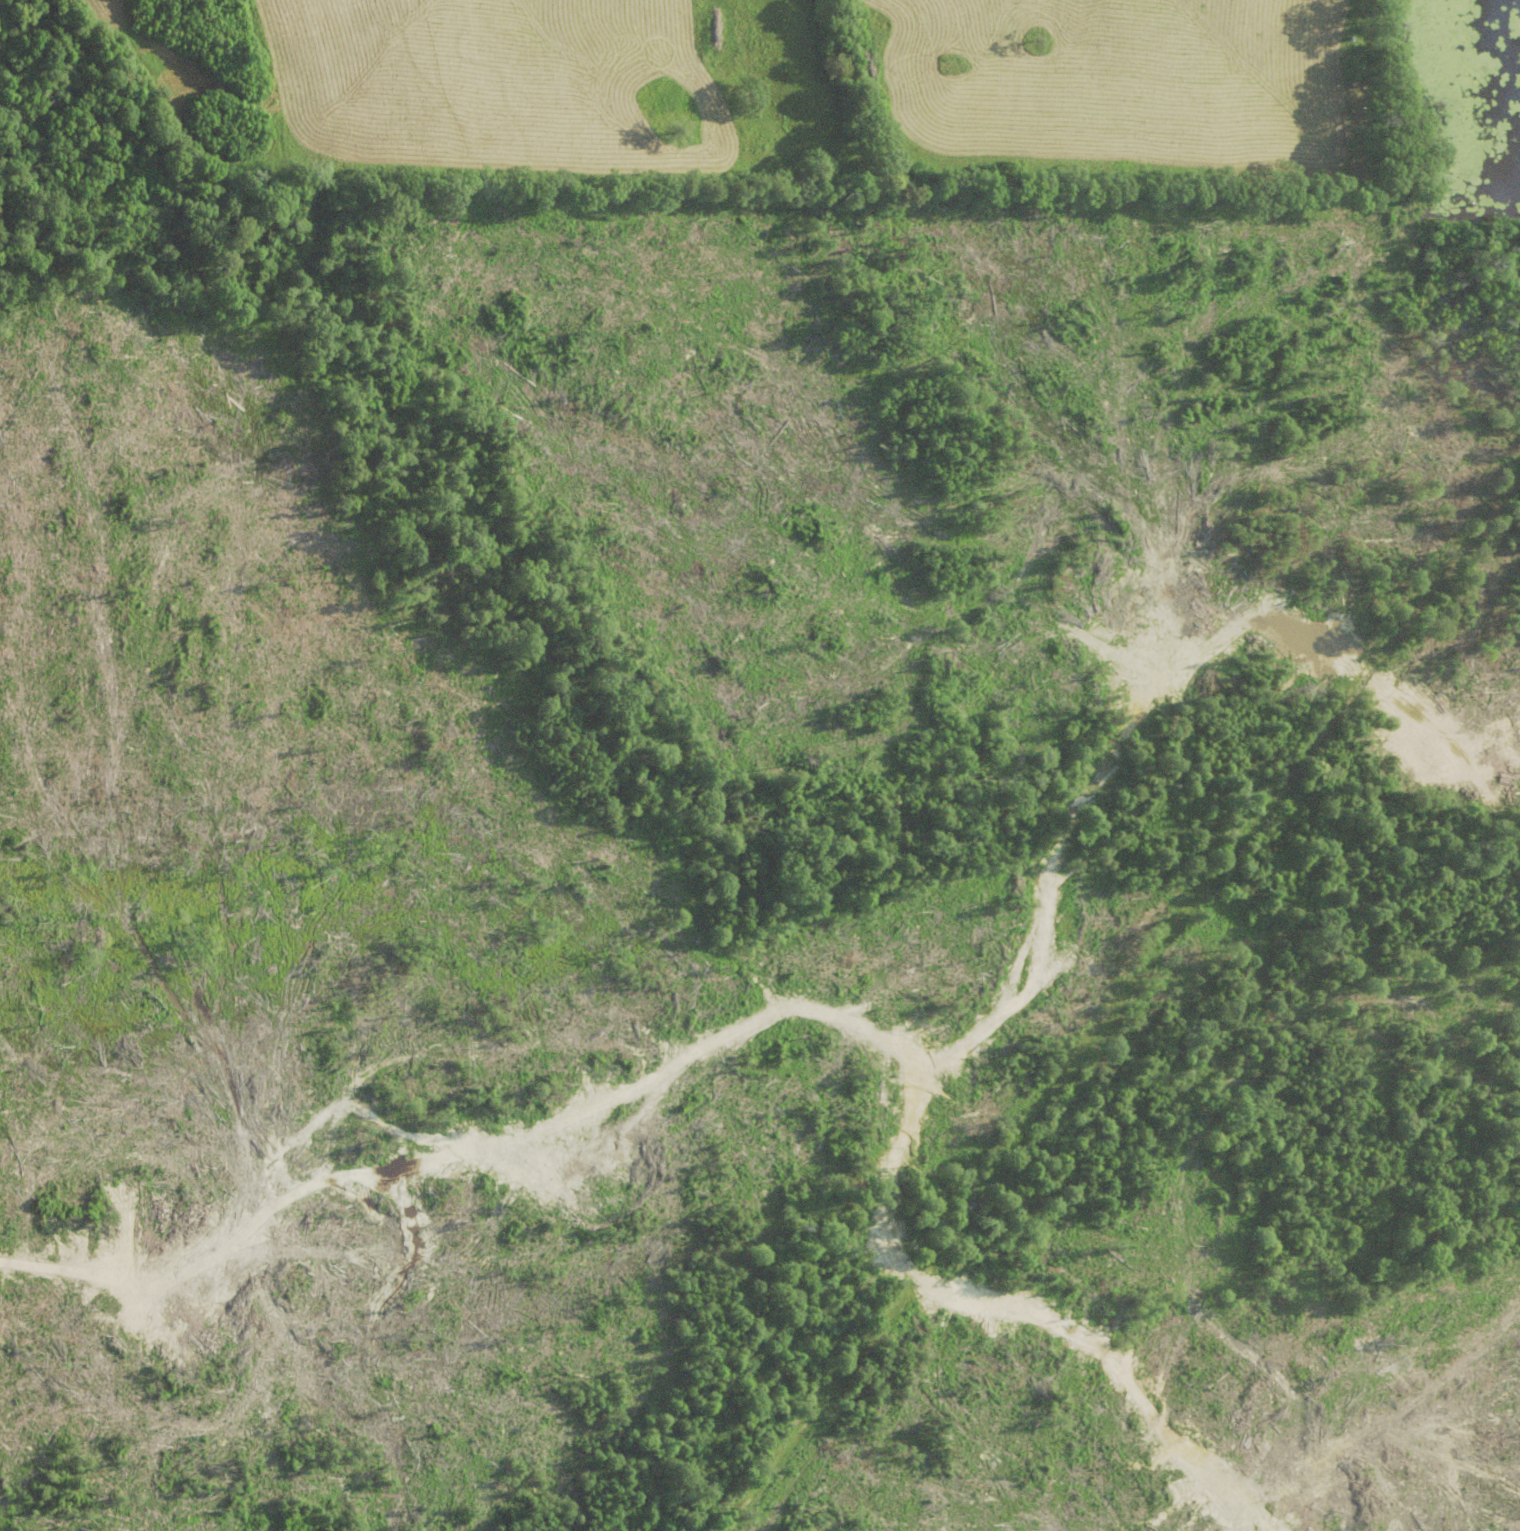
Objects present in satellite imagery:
road: (877, 1035)

